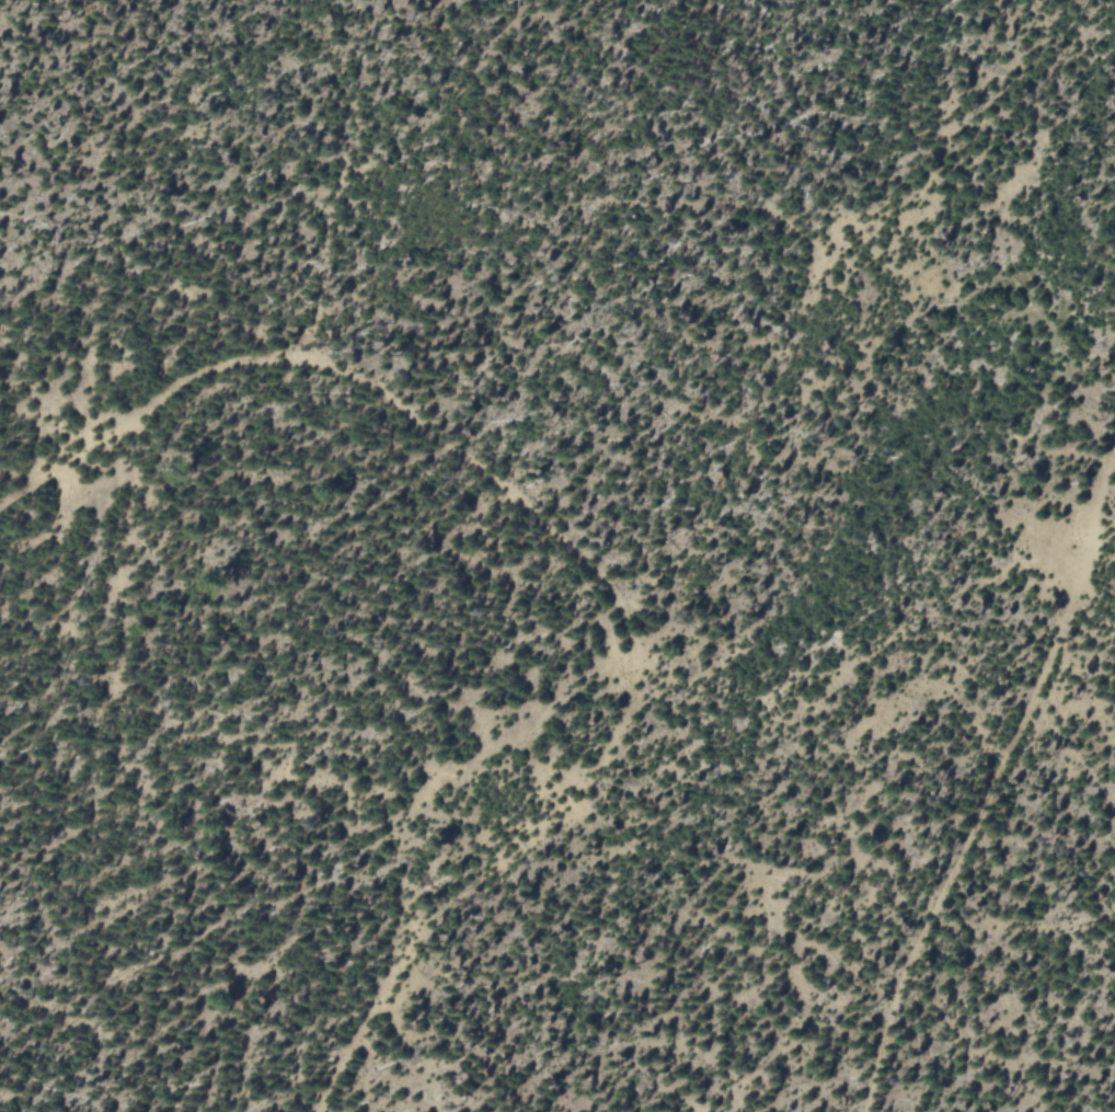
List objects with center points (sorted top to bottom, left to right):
road: (1019, 753)

